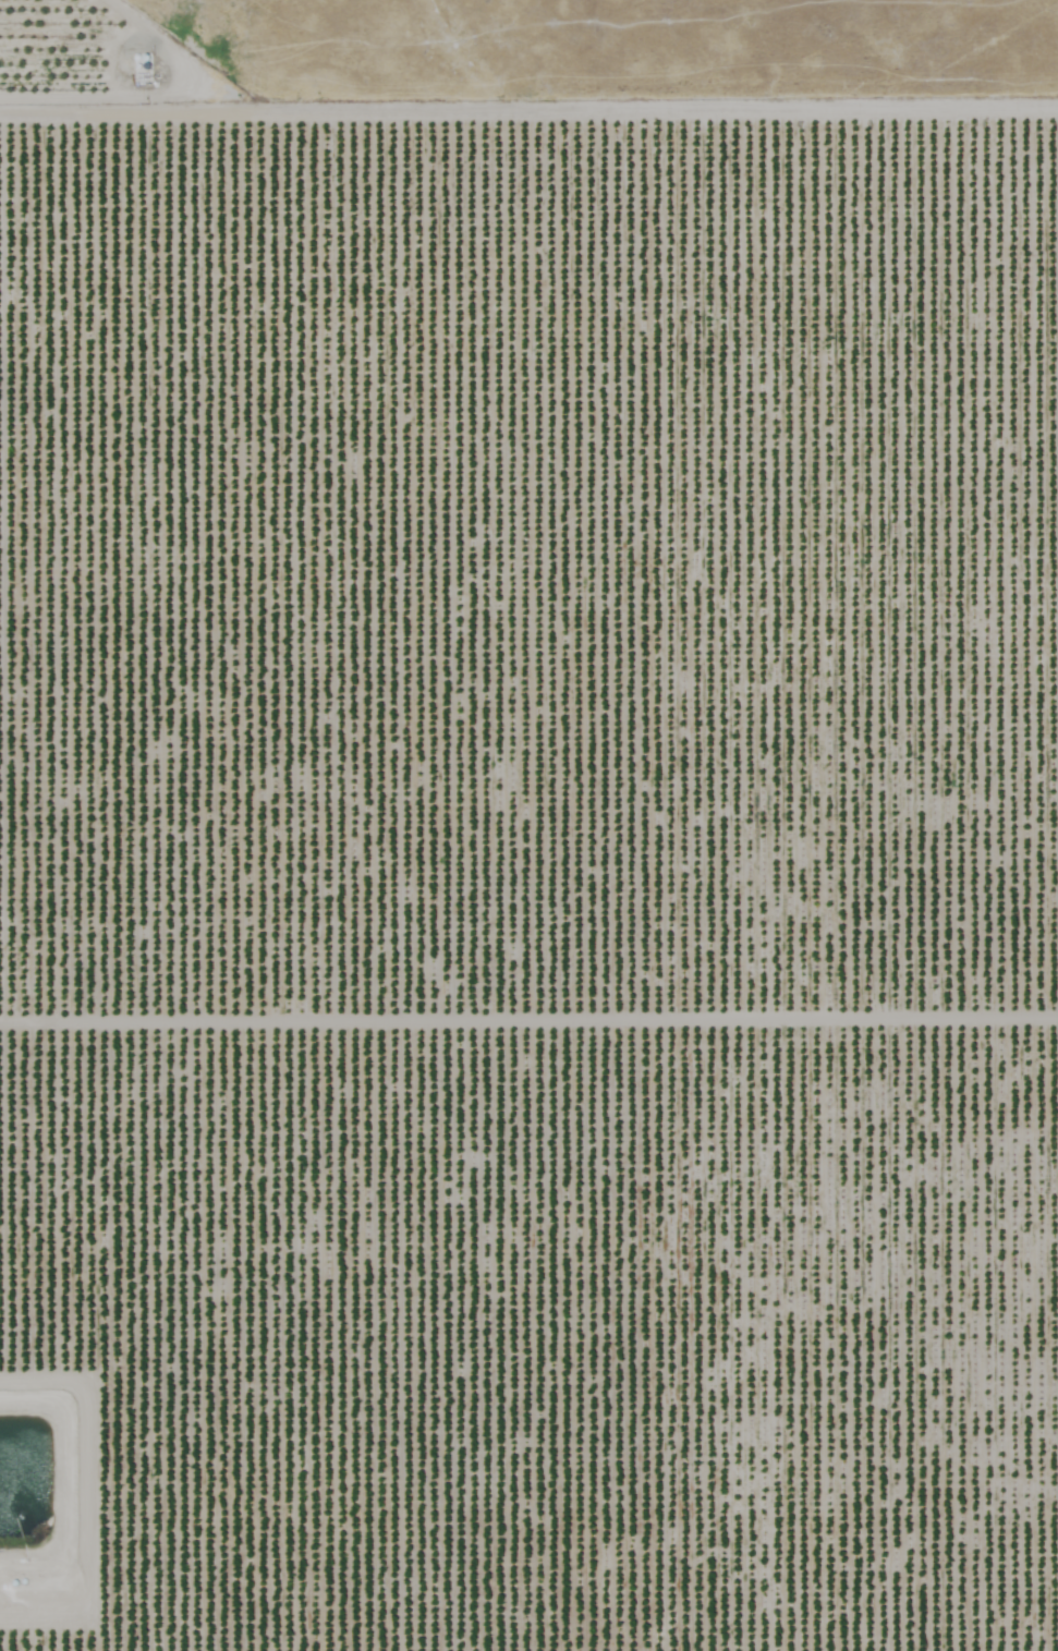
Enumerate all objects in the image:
road: (528, 26)
crop: (524, 866)
road: (567, 1614)
road: (26, 1637)

